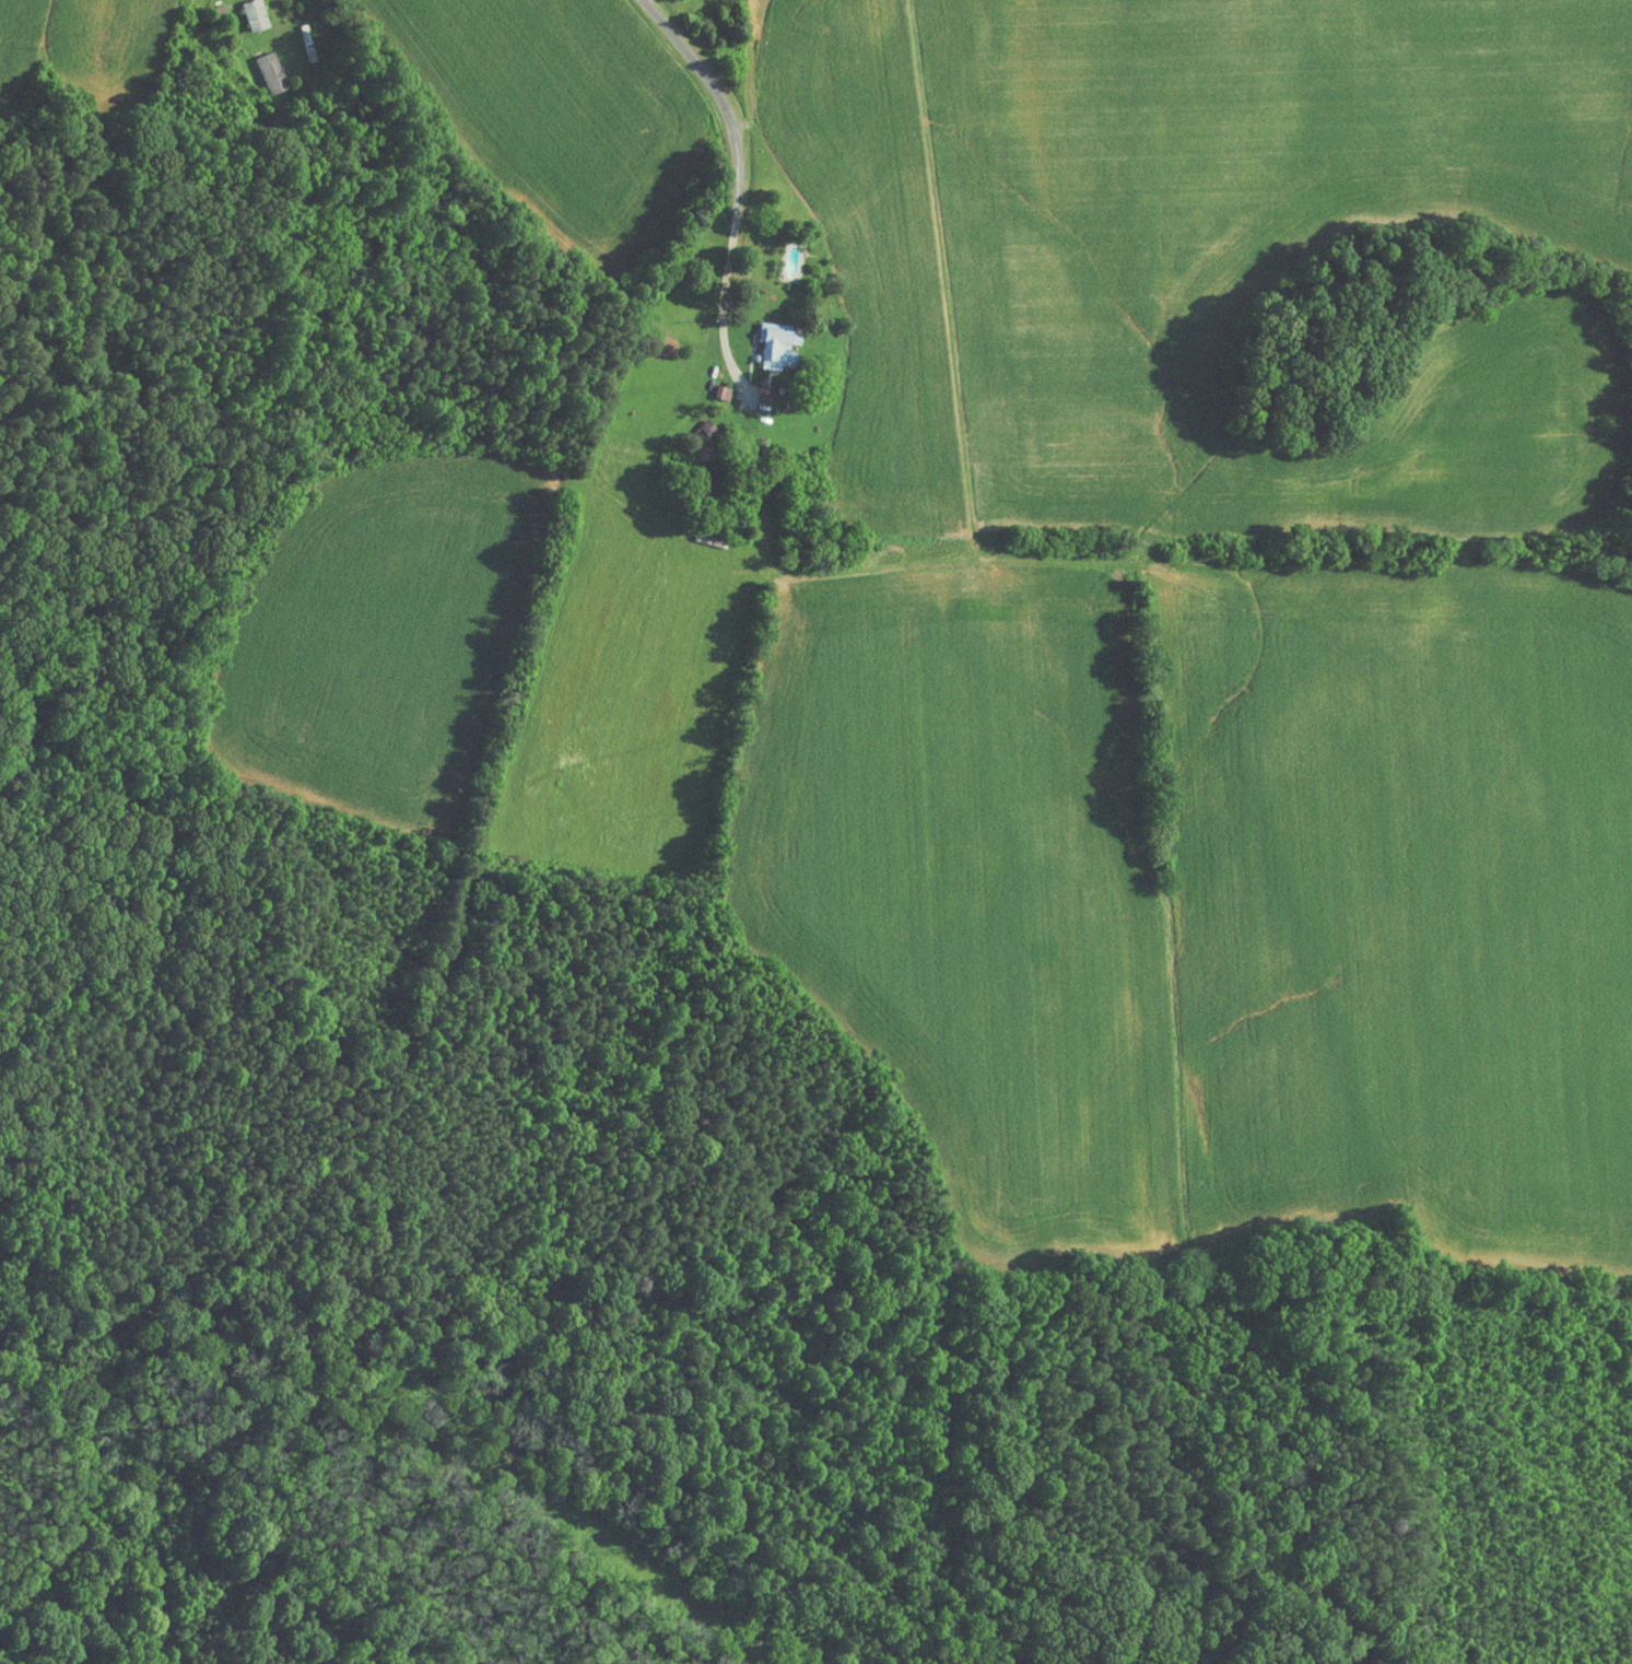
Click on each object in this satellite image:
building: (258, 14)
building: (272, 69)
road: (738, 179)
building: (782, 343)
building: (709, 425)

